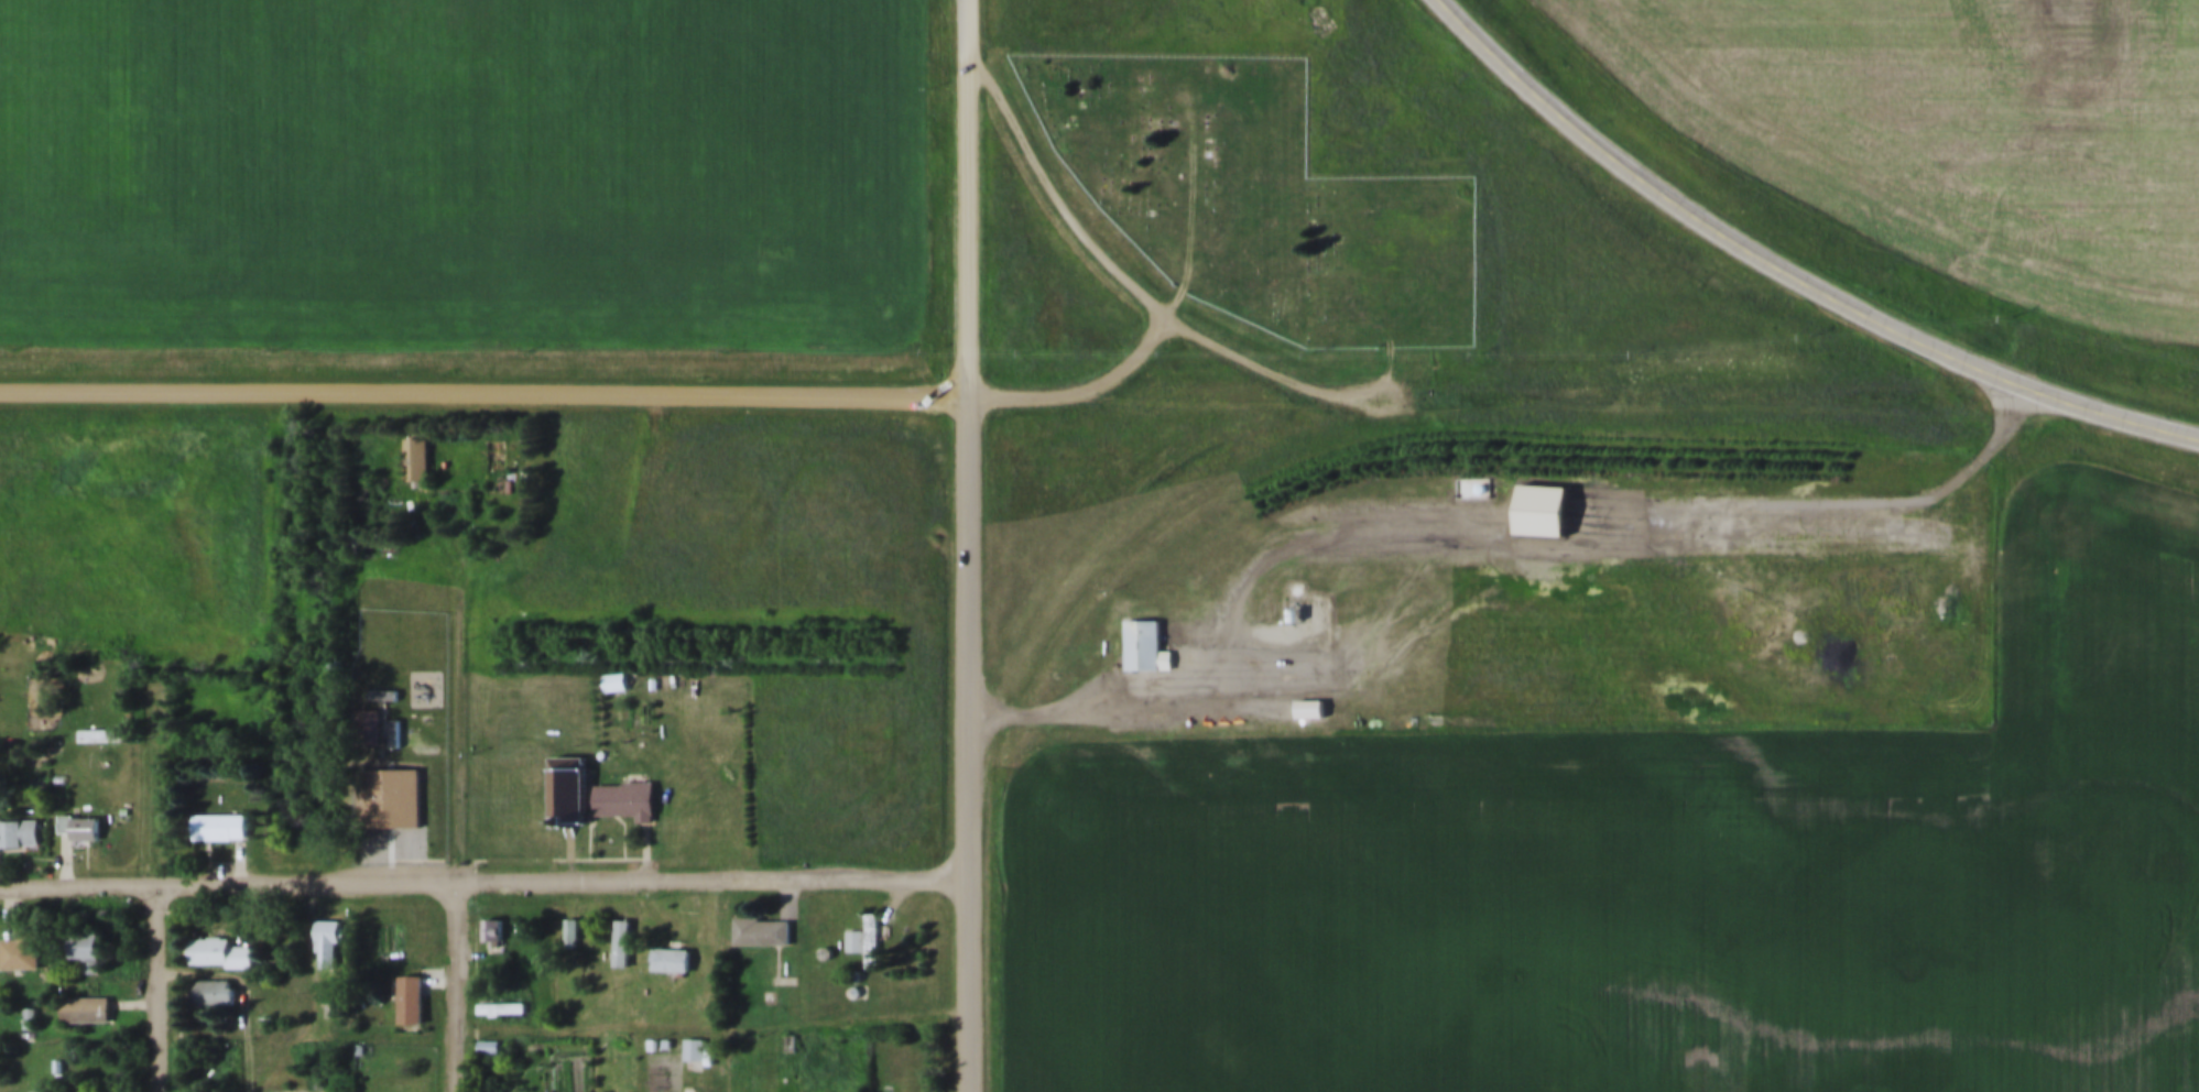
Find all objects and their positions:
road: (976, 24)
park: (1259, 181)
road: (1191, 193)
road: (976, 221)
road: (1795, 266)
road: (1133, 287)
road: (1079, 376)
road: (487, 391)
building: (413, 450)
building: (1474, 467)
building: (1538, 496)
road: (1840, 502)
storage tank: (1298, 571)
road: (490, 574)
building: (1292, 601)
building: (1144, 631)
road: (1363, 645)
building: (613, 665)
building: (383, 676)
building: (613, 684)
building: (1307, 694)
road: (1035, 710)
building: (1309, 710)
building: (366, 711)
building: (96, 716)
building: (394, 716)
building: (368, 729)
road: (971, 742)
building: (570, 774)
building: (625, 782)
building: (388, 783)
building: (624, 801)
building: (76, 810)
building: (216, 812)
building: (19, 818)
building: (218, 828)
building: (79, 829)
building: (19, 834)
road: (486, 880)
building: (761, 914)
building: (569, 917)
building: (489, 918)
building: (873, 921)
building: (857, 922)
building: (621, 927)
building: (324, 929)
building: (491, 932)
building: (762, 932)
building: (570, 933)
building: (81, 935)
building: (825, 936)
silo: (825, 936)
building: (21, 938)
building: (217, 938)
building: (671, 943)
building: (784, 947)
building: (220, 952)
building: (87, 954)
building: (854, 958)
silo: (854, 958)
building: (670, 961)
building: (856, 973)
silo: (856, 973)
building: (209, 978)
building: (406, 986)
road: (460, 986)
road: (161, 987)
building: (499, 992)
building: (214, 993)
building: (83, 995)
building: (29, 1001)
building: (85, 1011)
building: (793, 1024)
building: (668, 1025)
building: (653, 1026)
building: (488, 1031)
building: (696, 1033)
building: (358, 1034)
road: (255, 1046)
building: (488, 1048)
building: (693, 1050)
building: (625, 1088)
building: (498, 1089)
building: (304, 1090)
building: (794, 1091)

